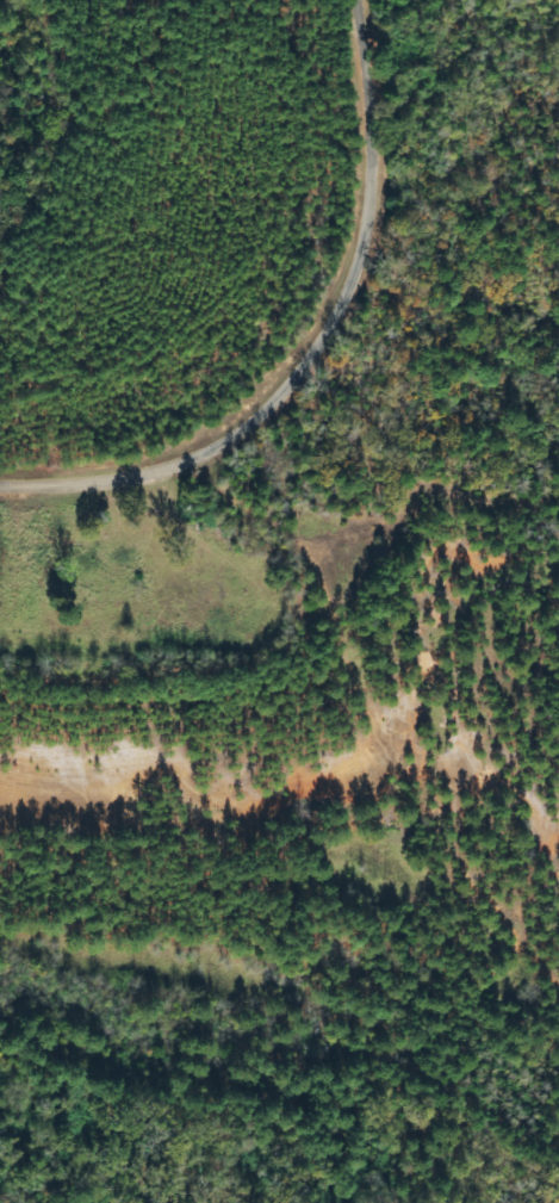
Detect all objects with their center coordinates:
road: (322, 352)
road: (361, 534)
park: (136, 579)

